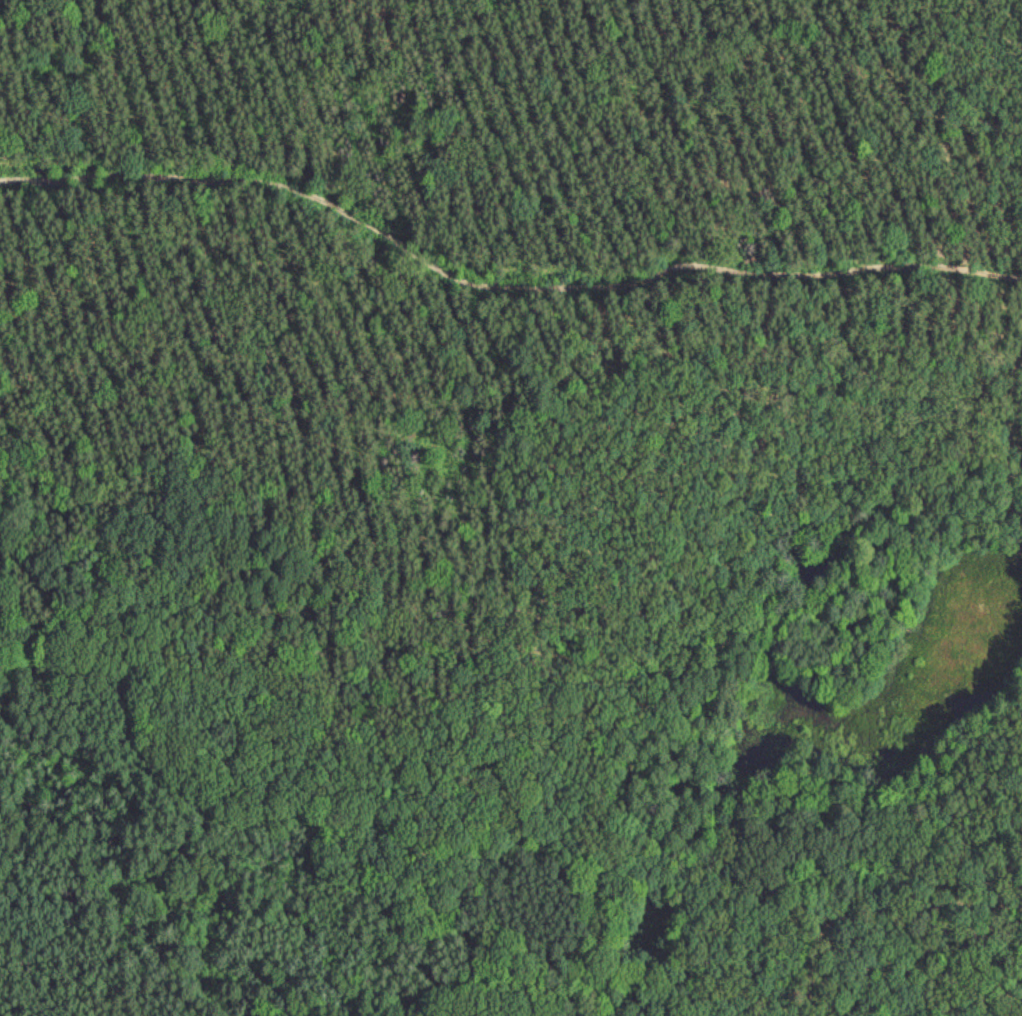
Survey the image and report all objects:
road: (508, 231)

